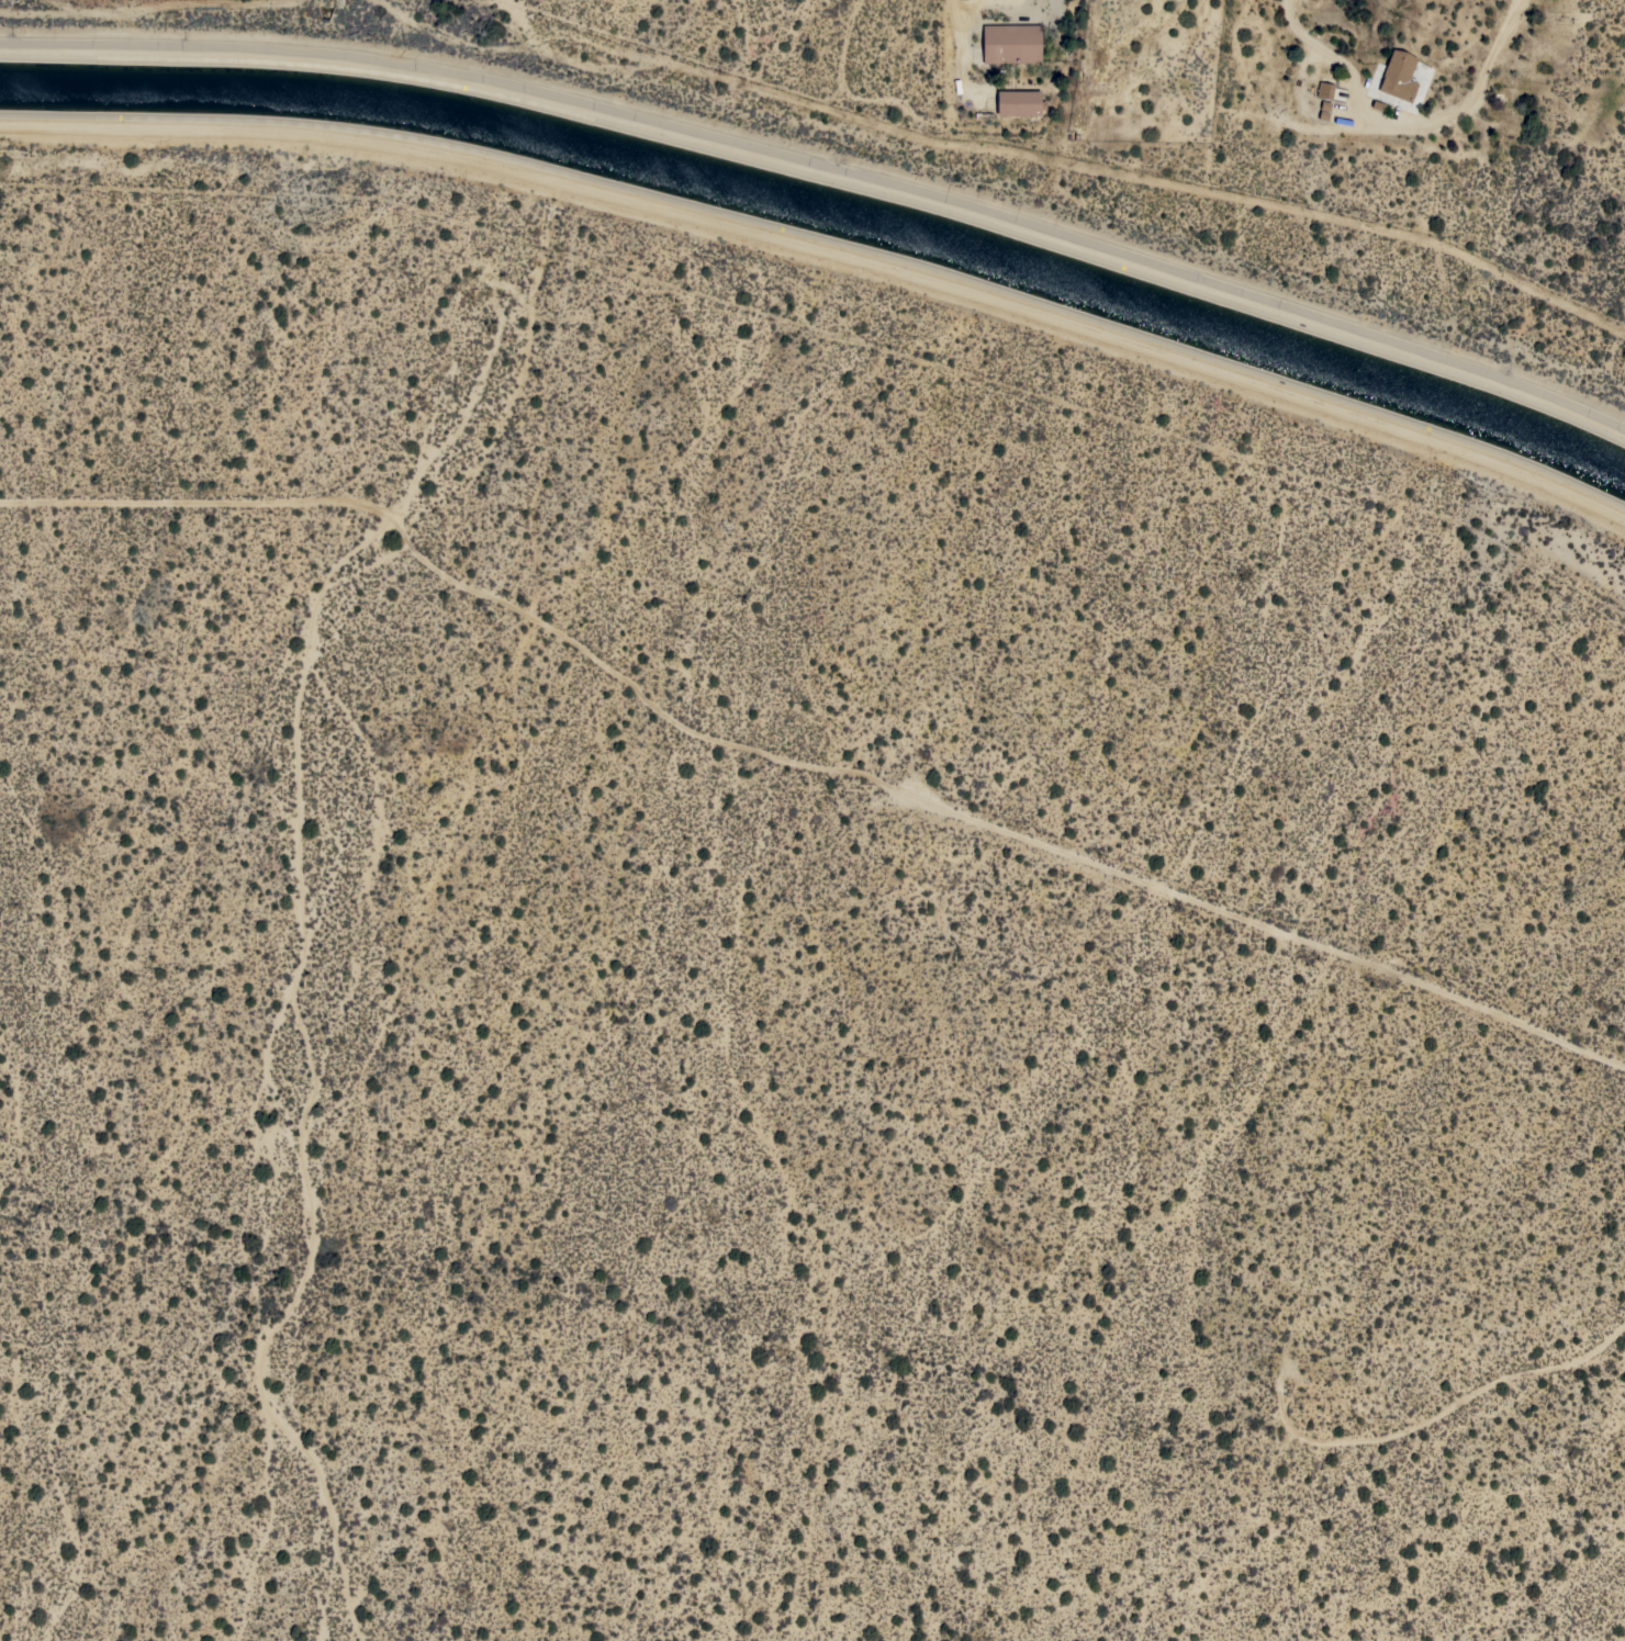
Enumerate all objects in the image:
building: (1011, 43)
building: (1399, 76)
building: (1324, 89)
building: (1019, 102)
road: (1413, 121)

